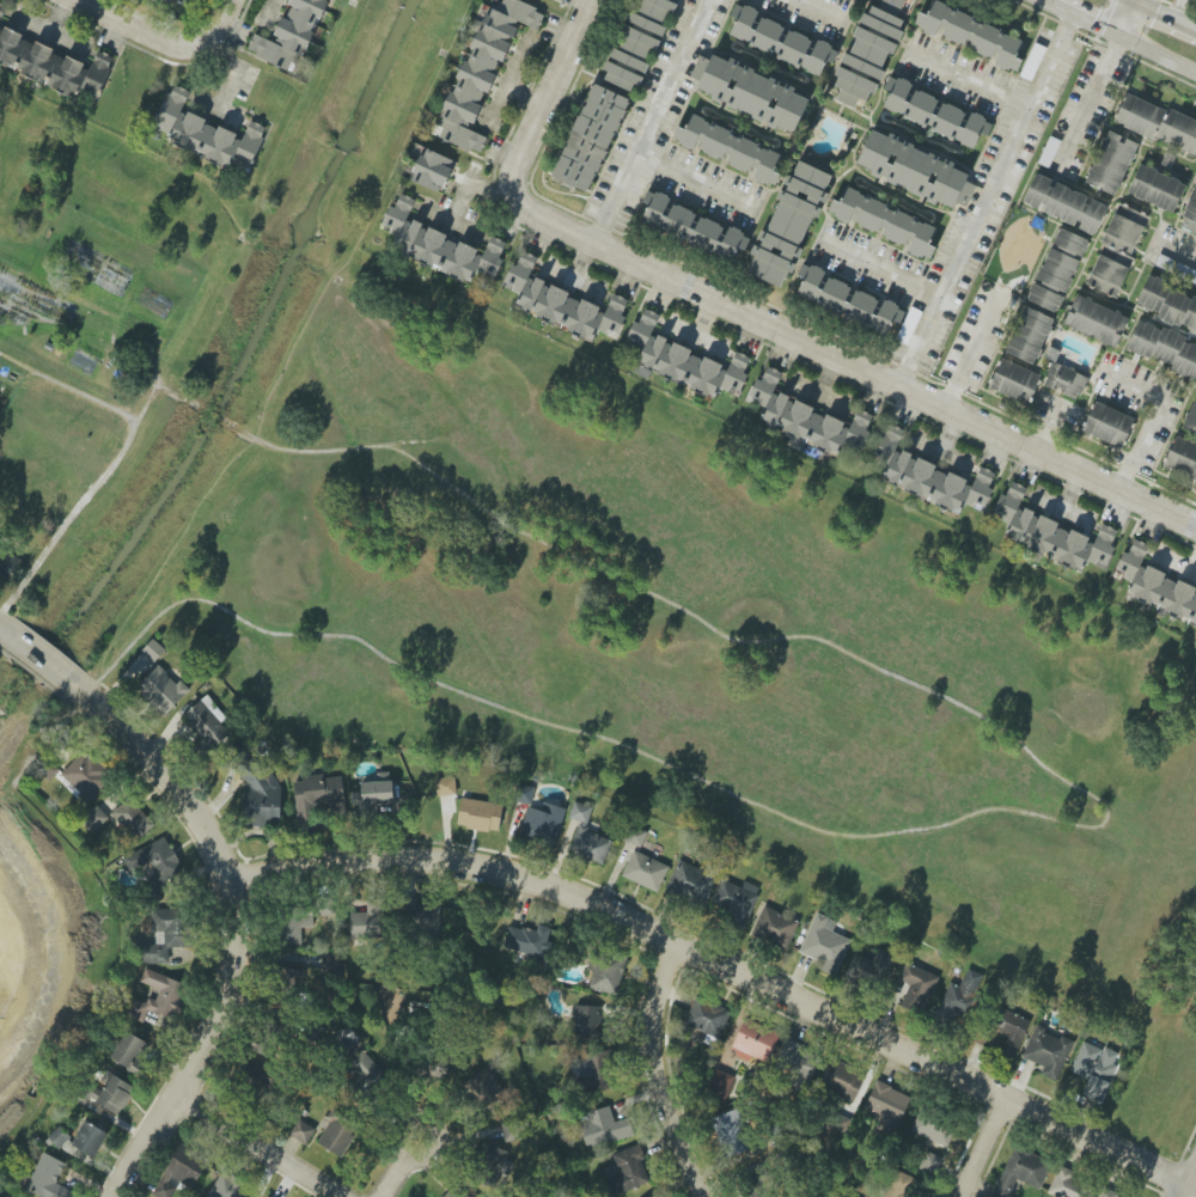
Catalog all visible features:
building: (179, 2)
traffic signals: (1129, 4)
road: (816, 7)
building: (1, 11)
road: (1174, 11)
road: (270, 14)
road: (1158, 17)
road: (1122, 18)
building: (289, 35)
building: (971, 35)
road: (1115, 37)
traffic signals: (1115, 37)
road: (161, 39)
building: (780, 41)
building: (636, 43)
building: (868, 53)
building: (51, 65)
building: (483, 69)
road: (970, 81)
road: (555, 85)
building: (750, 92)
road: (1087, 96)
parking lot: (1084, 112)
building: (934, 114)
road: (651, 122)
building: (1158, 123)
building: (206, 133)
building: (590, 139)
building: (728, 148)
building: (1111, 163)
building: (432, 170)
building: (915, 170)
road: (691, 178)
building: (1155, 188)
road: (984, 202)
building: (1064, 204)
building: (1190, 215)
building: (884, 222)
building: (788, 224)
building: (692, 228)
building: (440, 246)
park: (1014, 246)
building: (1116, 251)
road: (1177, 252)
building: (1057, 270)
road: (887, 271)
building: (561, 303)
building: (1167, 303)
building: (855, 305)
road: (118, 317)
building: (1096, 320)
building: (1030, 335)
building: (1163, 348)
road: (968, 352)
road: (288, 355)
building: (684, 361)
road: (843, 361)
river: (233, 371)
building: (1064, 380)
building: (1014, 381)
road: (68, 389)
road: (170, 392)
road: (210, 414)
building: (804, 417)
road: (1151, 419)
building: (1191, 420)
building: (1107, 425)
building: (1182, 459)
building: (929, 476)
road: (66, 521)
building: (0, 529)
building: (1051, 533)
building: (8, 564)
park: (563, 584)
building: (1155, 585)
road: (2, 624)
road: (31, 649)
building: (153, 649)
building: (138, 666)
building: (161, 690)
building: (207, 723)
road: (158, 768)
building: (86, 776)
building: (445, 786)
building: (377, 792)
building: (260, 793)
building: (525, 794)
building: (316, 796)
road: (982, 810)
building: (580, 812)
building: (480, 816)
building: (133, 818)
building: (93, 819)
building: (542, 825)
building: (635, 837)
building: (590, 844)
building: (154, 861)
building: (645, 871)
building: (691, 884)
building: (734, 902)
building: (327, 906)
building: (421, 916)
building: (367, 918)
building: (292, 923)
building: (774, 927)
building: (167, 938)
building: (527, 940)
building: (824, 945)
road: (31, 960)
park: (38, 960)
building: (871, 965)
road: (728, 970)
building: (606, 971)
building: (291, 978)
building: (916, 988)
building: (159, 997)
building: (960, 998)
building: (707, 1018)
building: (588, 1024)
building: (1007, 1032)
building: (755, 1042)
road: (203, 1046)
building: (264, 1046)
building: (129, 1051)
building: (1048, 1052)
building: (799, 1063)
building: (1094, 1068)
building: (591, 1071)
road: (654, 1073)
building: (365, 1074)
building: (266, 1077)
building: (840, 1080)
building: (719, 1086)
building: (486, 1089)
building: (112, 1093)
building: (887, 1106)
building: (934, 1126)
building: (603, 1128)
building: (301, 1131)
building: (731, 1134)
building: (57, 1137)
building: (89, 1138)
road: (260, 1144)
road: (987, 1149)
road: (416, 1160)
building: (930, 1164)
building: (494, 1168)
building: (181, 1171)
building: (624, 1171)
building: (1020, 1172)
road: (393, 1177)
road: (1186, 1177)
building: (48, 1178)
building: (756, 1184)
building: (901, 1185)
building: (1069, 1185)
building: (227, 1186)
building: (454, 1192)
building: (1107, 1193)
building: (657, 1196)

